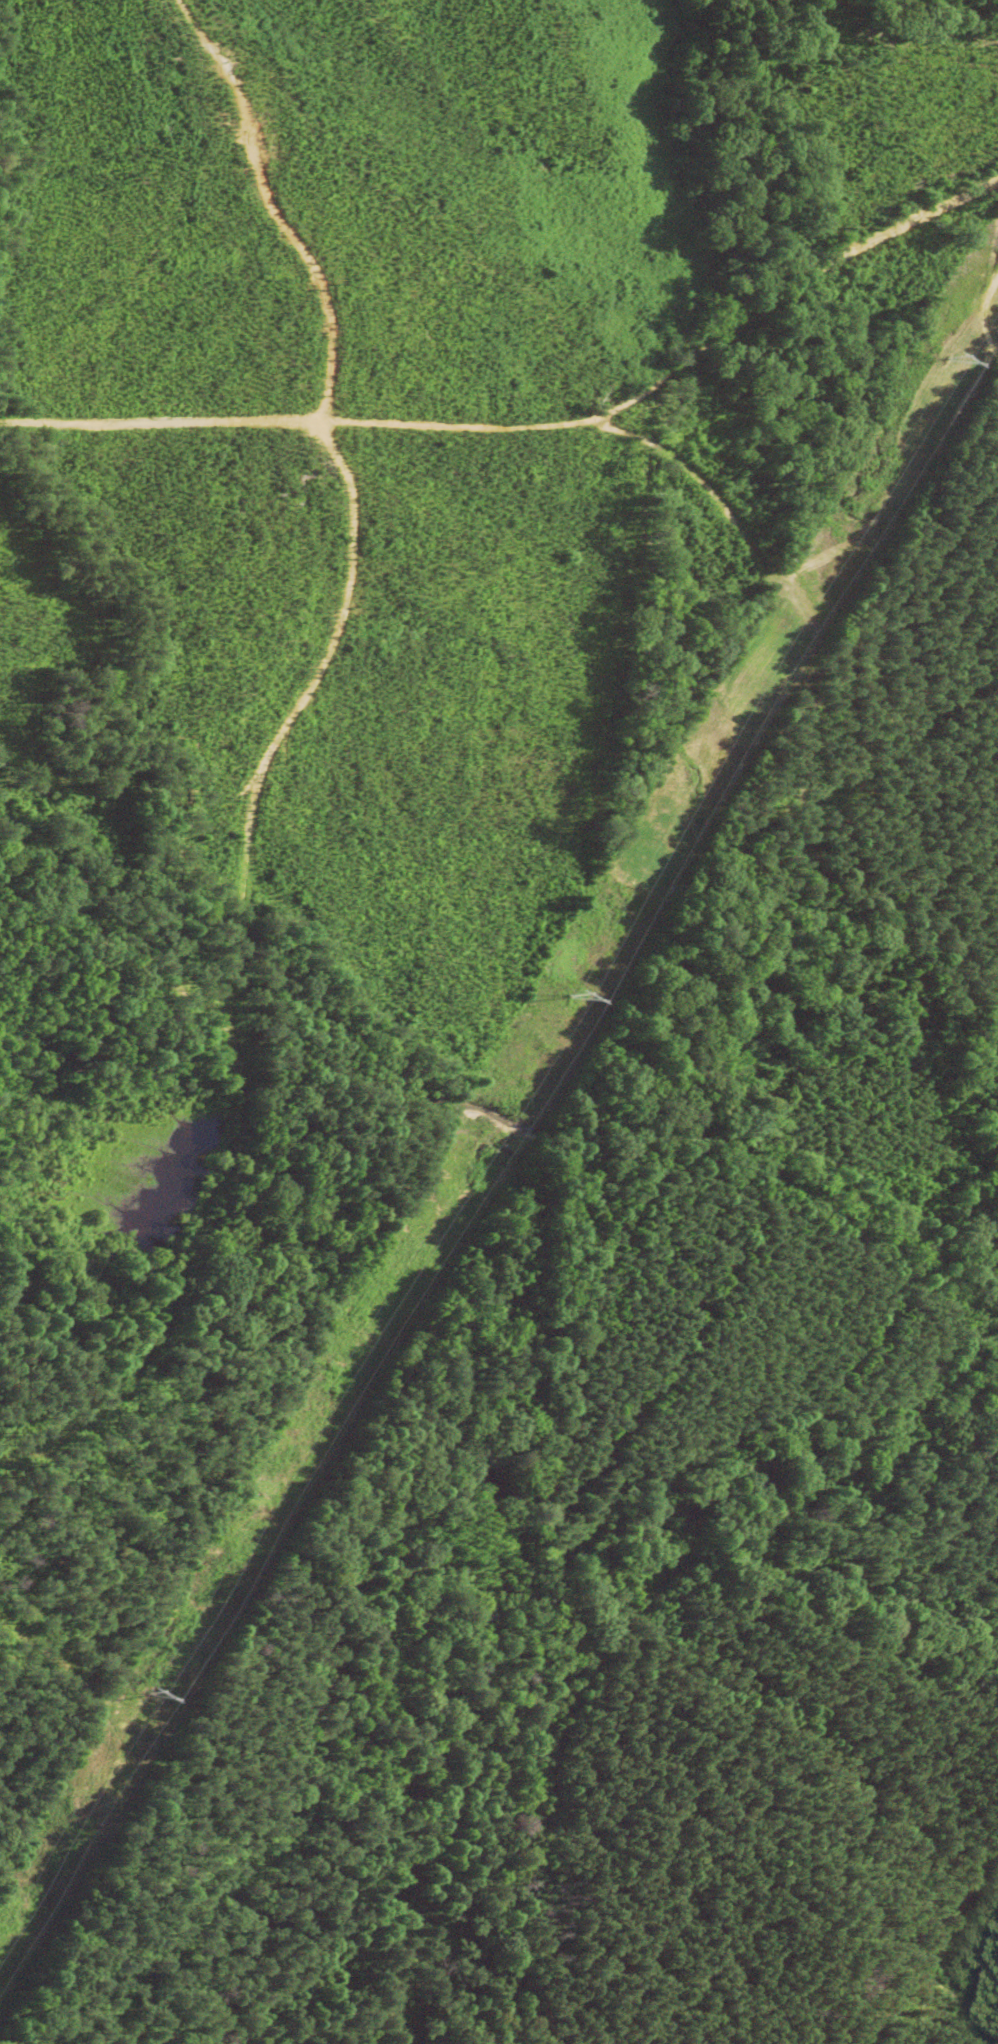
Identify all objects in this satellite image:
road: (855, 254)
power tower: (950, 360)
road: (371, 433)
power tower: (568, 998)
power tower: (150, 1695)

